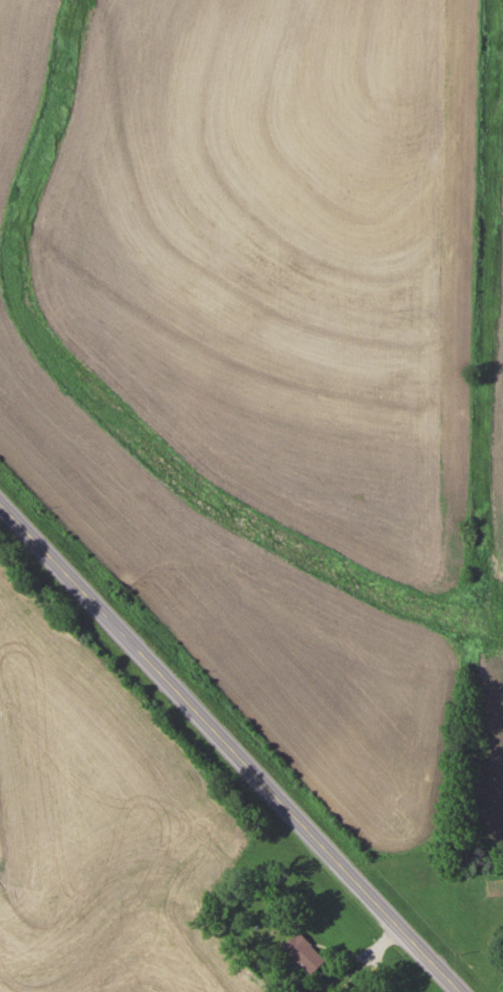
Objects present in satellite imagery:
road: (229, 746)
building: (304, 952)
road: (362, 959)

